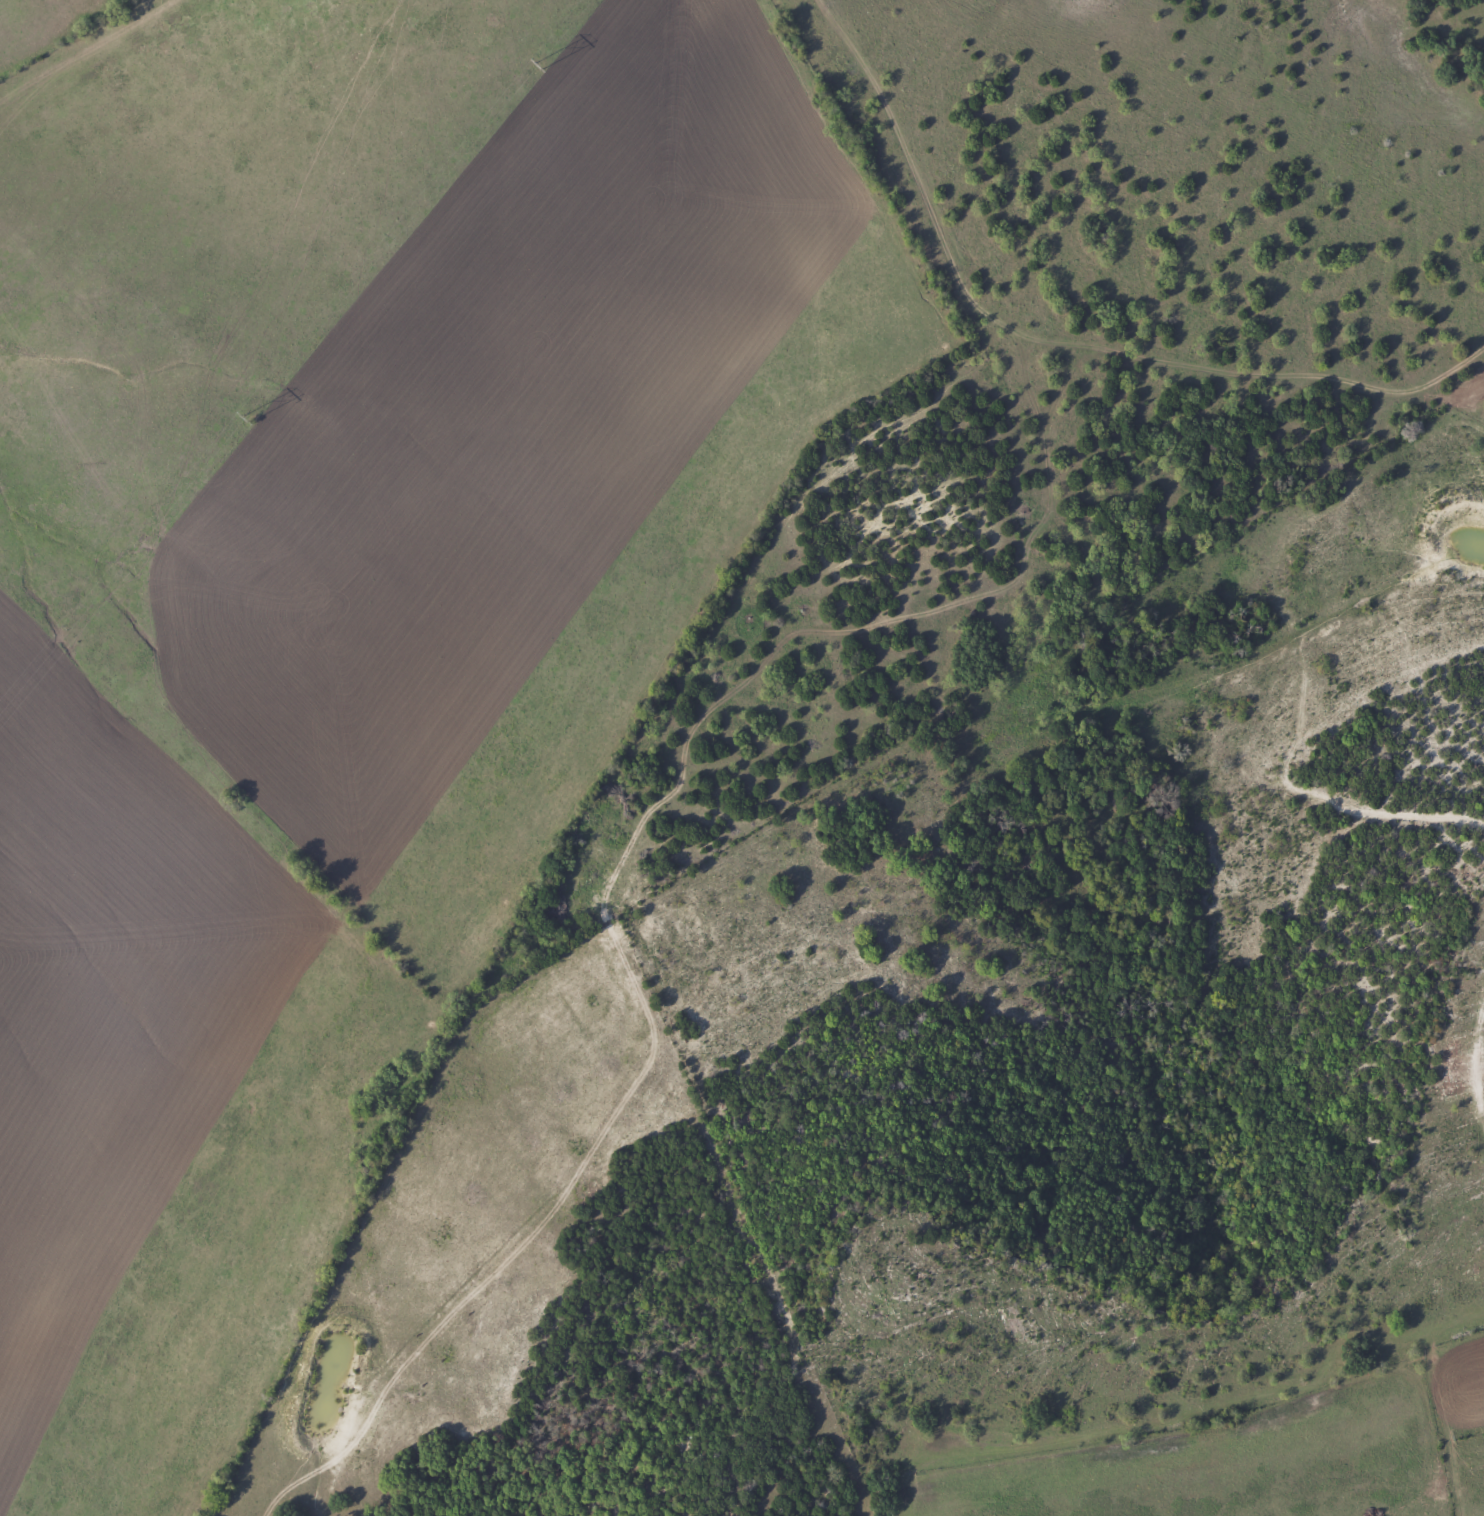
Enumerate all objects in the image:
power tower: (539, 64)
power tower: (248, 417)
road: (269, 1505)

